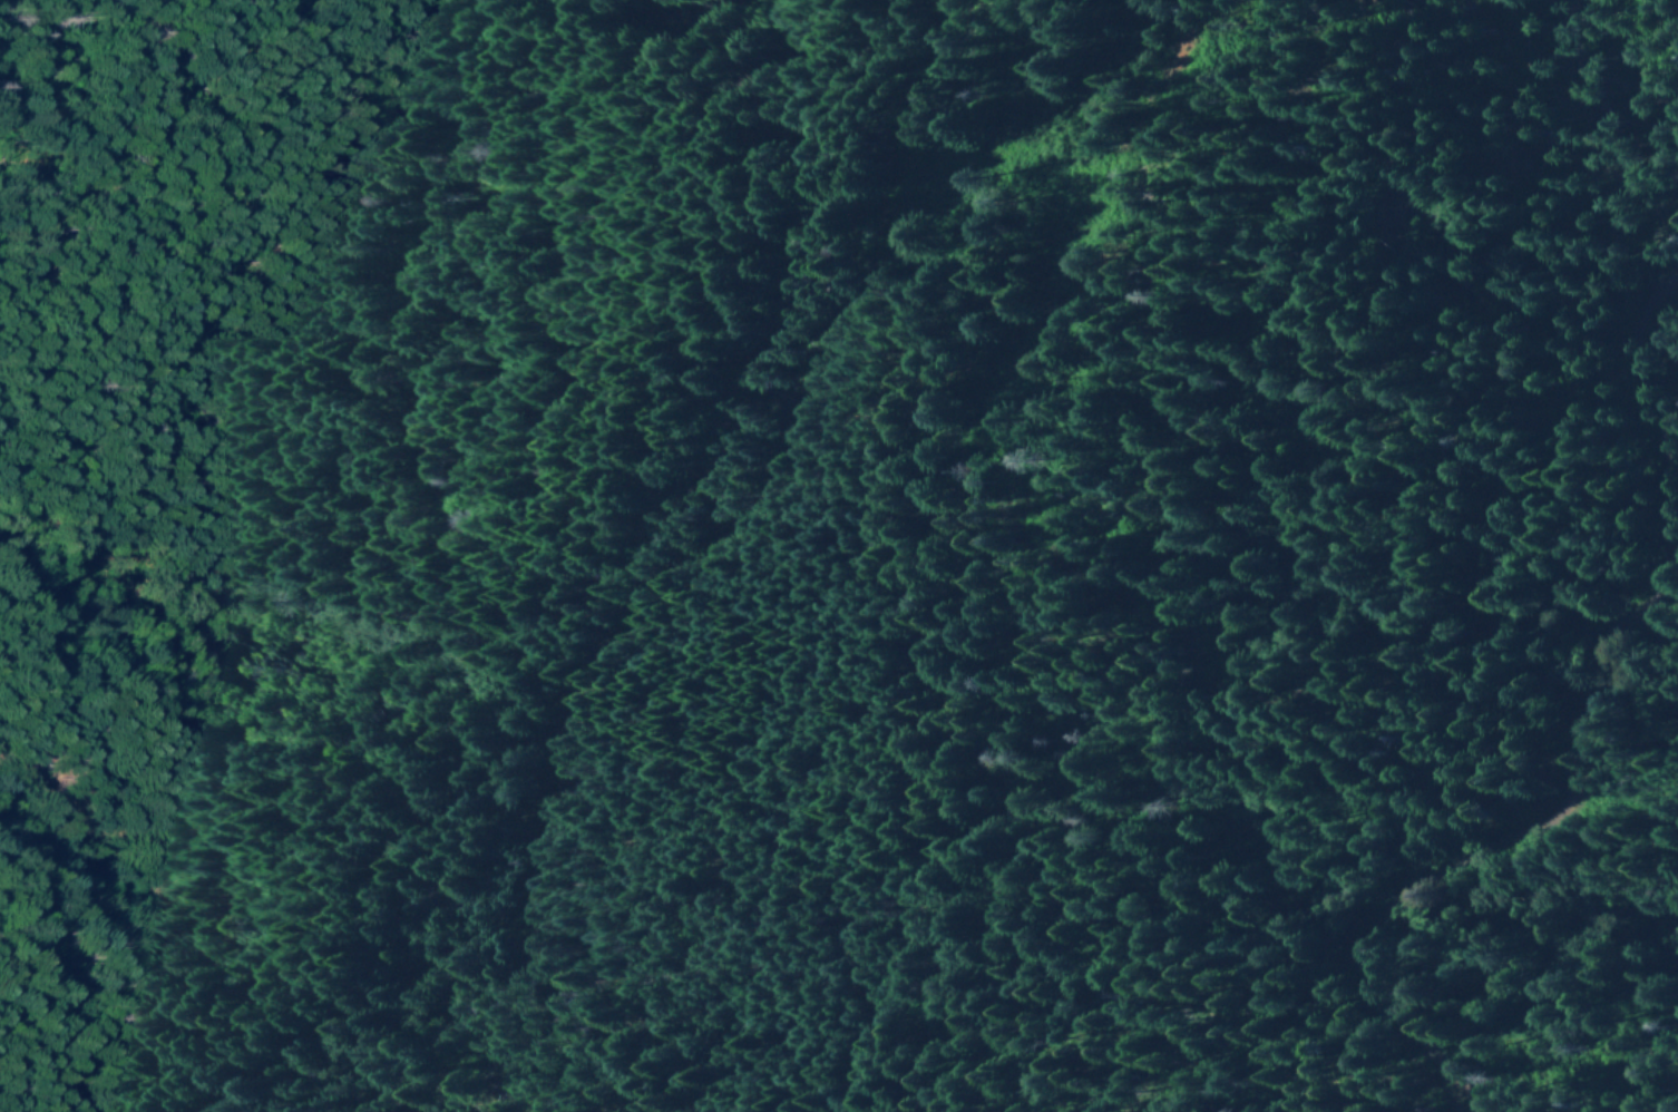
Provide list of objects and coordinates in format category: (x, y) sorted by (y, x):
road: (13, 18)

